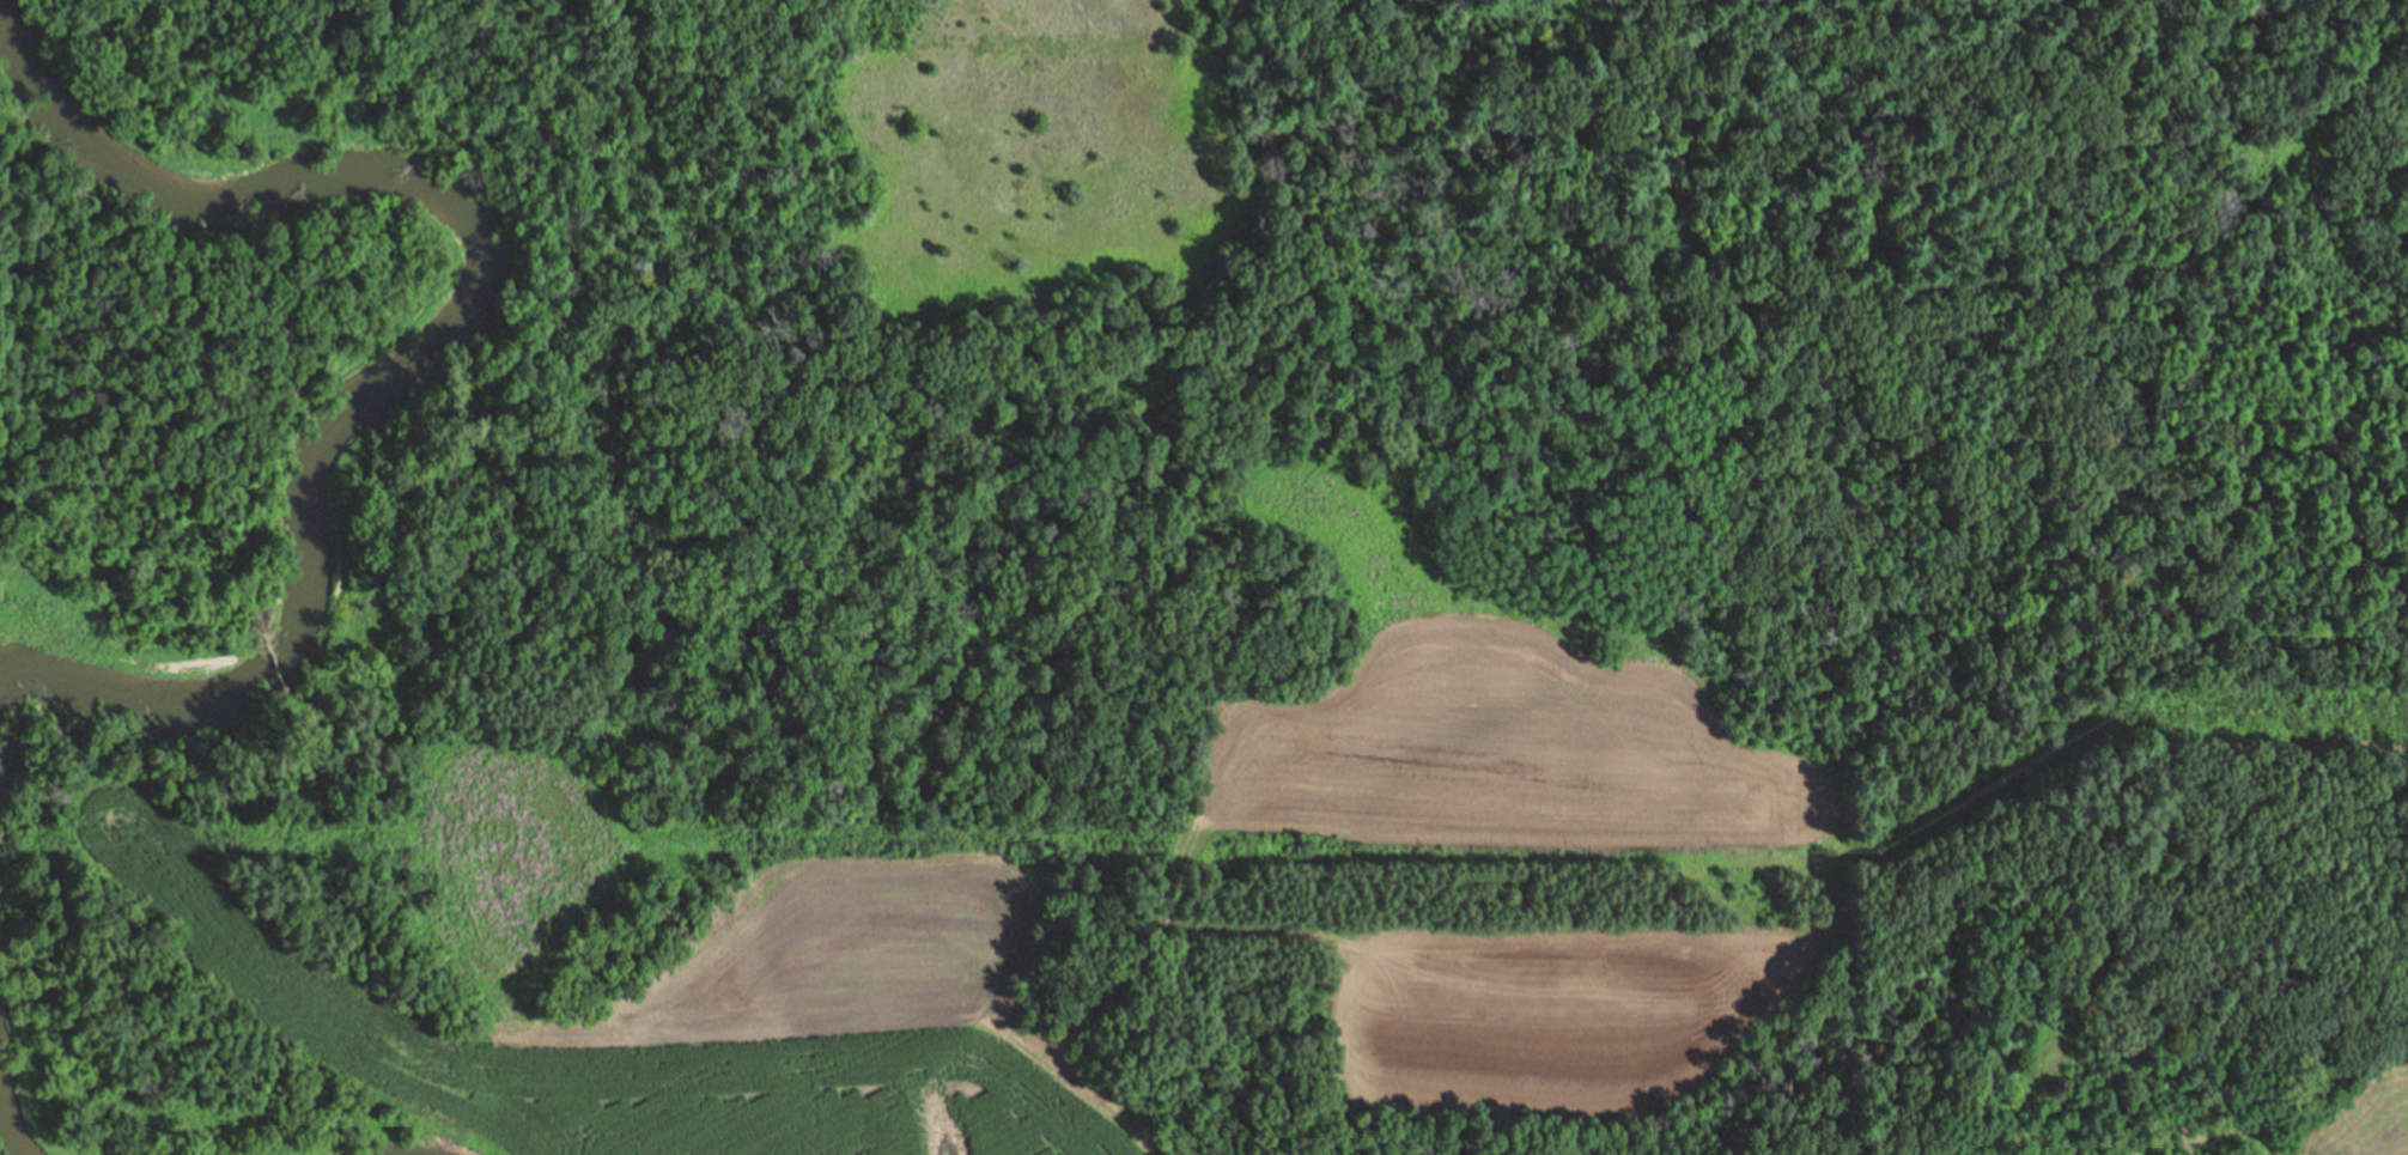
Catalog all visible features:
river: (449, 326)
river: (13, 1123)

